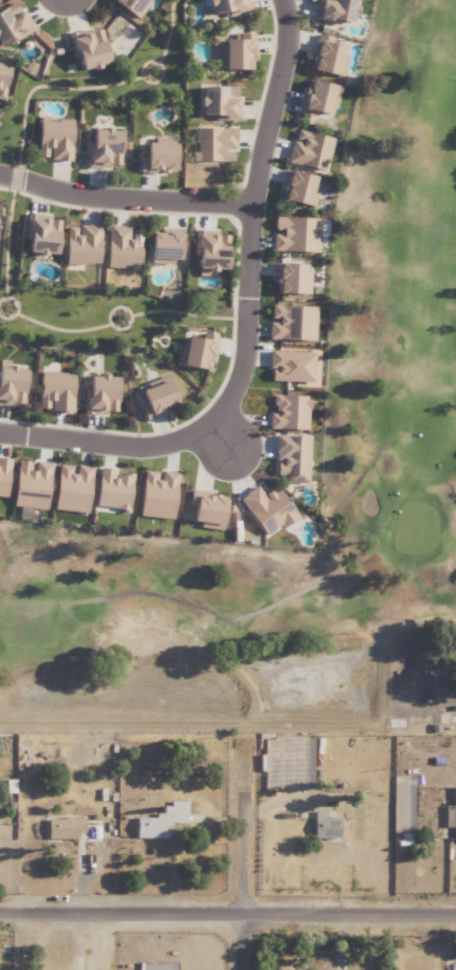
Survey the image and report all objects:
building: (133, 6)
building: (228, 6)
building: (333, 10)
building: (13, 21)
road: (287, 24)
building: (87, 46)
building: (237, 50)
building: (325, 55)
building: (3, 75)
building: (316, 97)
building: (219, 101)
road: (266, 127)
building: (53, 137)
building: (213, 142)
building: (102, 147)
building: (308, 148)
building: (157, 154)
building: (297, 186)
building: (39, 232)
building: (294, 233)
building: (81, 243)
building: (164, 243)
building: (121, 245)
building: (209, 247)
building: (290, 277)
road: (247, 298)
park: (392, 308)
building: (290, 321)
building: (196, 350)
building: (290, 364)
building: (11, 385)
building: (55, 389)
building: (98, 393)
building: (156, 396)
building: (288, 411)
building: (291, 456)
building: (3, 475)
building: (30, 483)
building: (71, 486)
building: (112, 489)
building: (156, 494)
building: (206, 507)
building: (266, 508)
road: (329, 563)
road: (439, 671)
road: (188, 720)
building: (452, 811)
road: (241, 815)
building: (160, 820)
building: (324, 823)
building: (63, 826)
road: (228, 911)
road: (241, 940)

